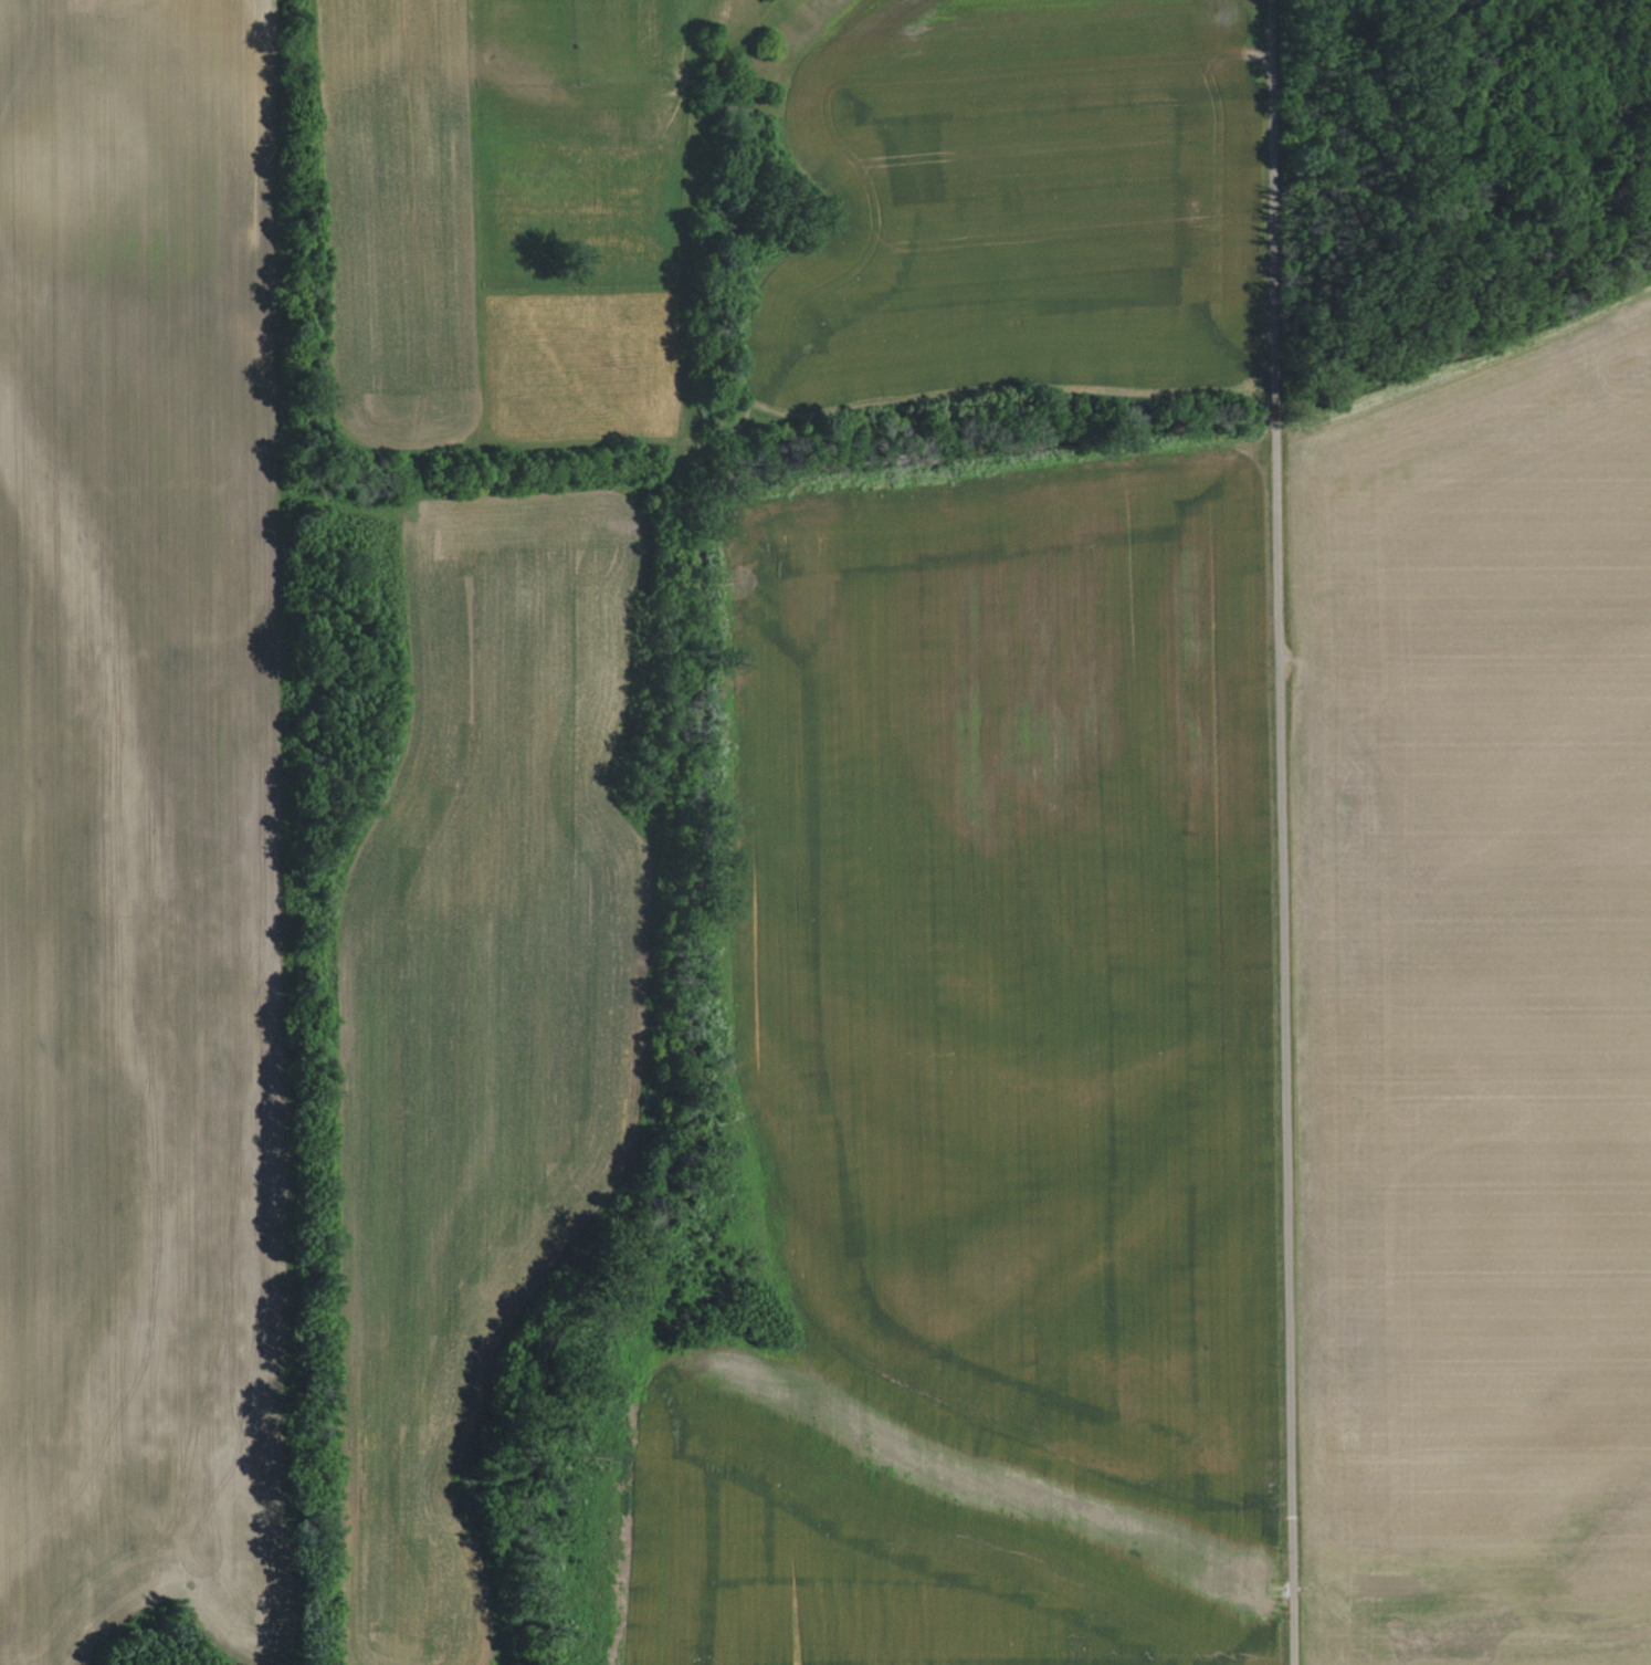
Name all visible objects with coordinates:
road: (1283, 832)

